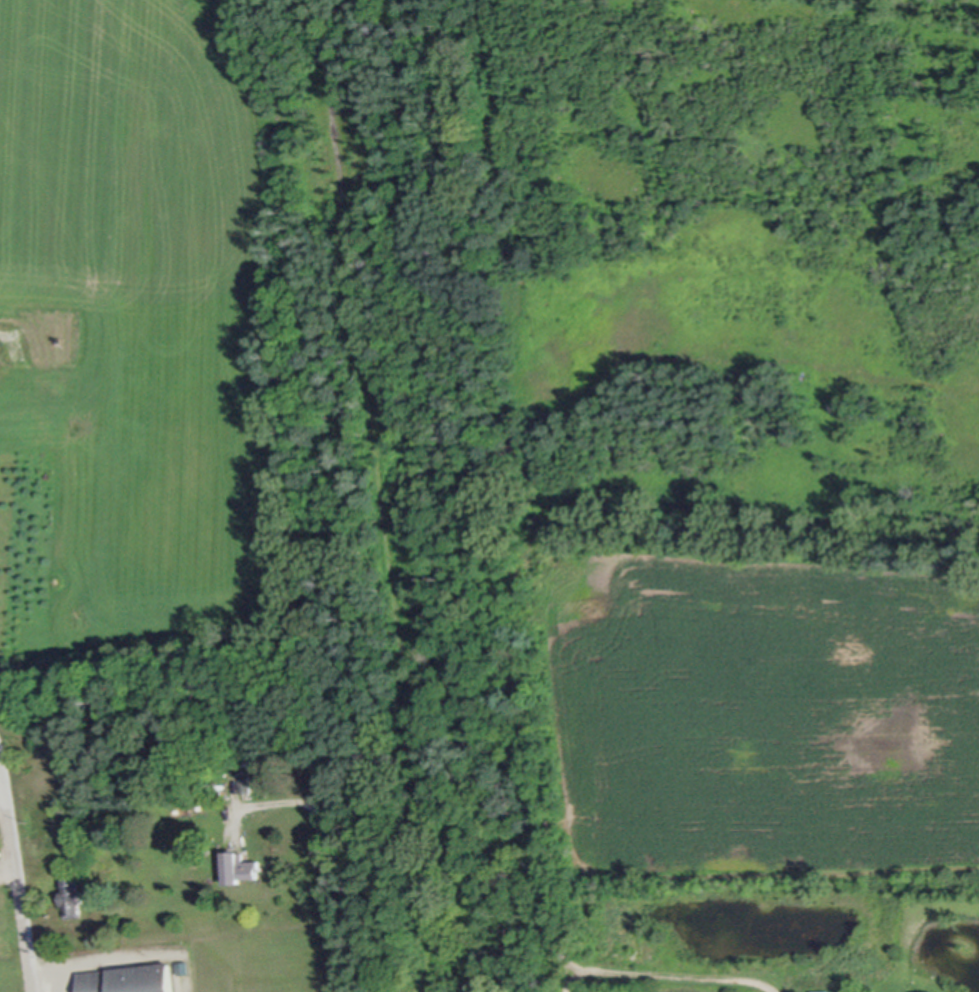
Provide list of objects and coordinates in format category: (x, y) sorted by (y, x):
road: (511, 760)
building: (244, 783)
building: (238, 866)
road: (18, 873)
building: (69, 895)
road: (331, 896)
building: (126, 978)
road: (565, 981)
building: (820, 991)

